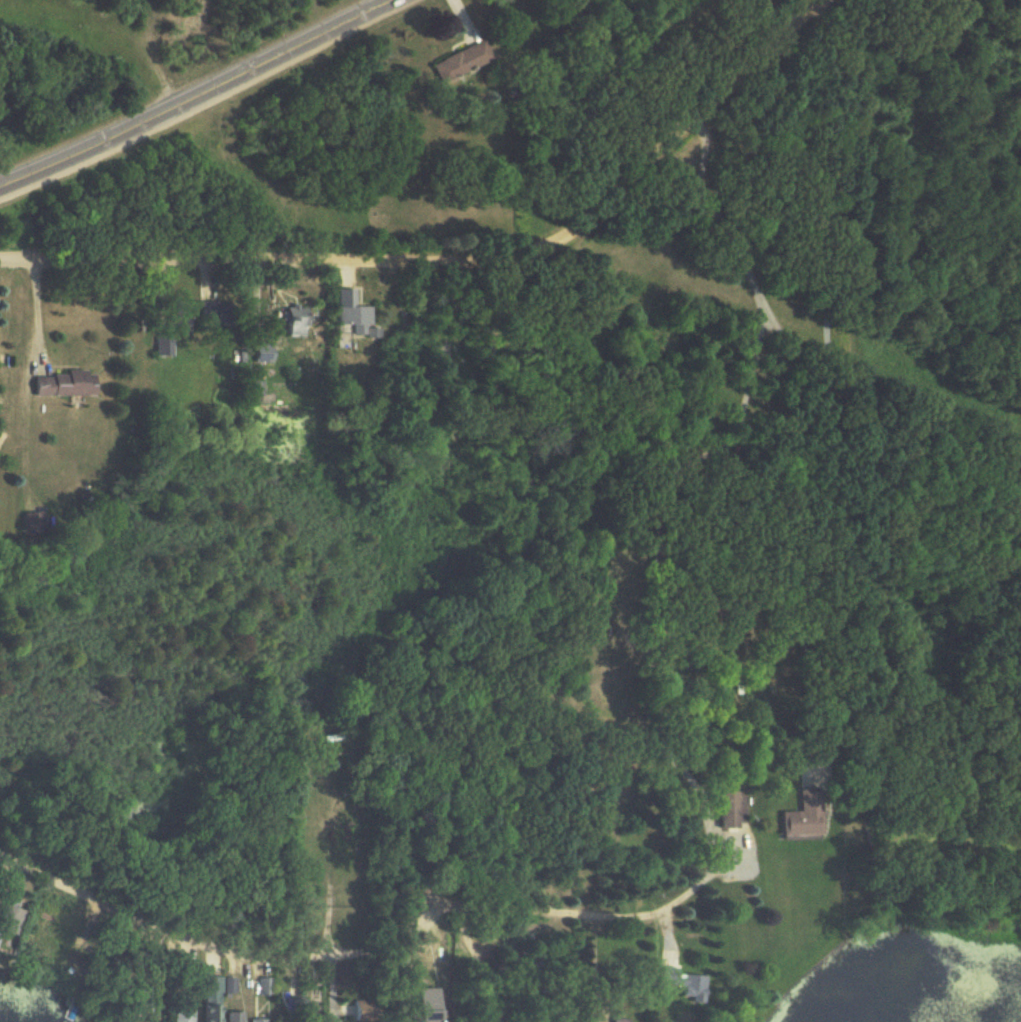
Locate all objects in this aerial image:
building: (459, 61)
road: (194, 94)
road: (460, 263)
building: (219, 311)
building: (347, 313)
building: (294, 315)
building: (171, 326)
building: (261, 352)
building: (59, 384)
road: (657, 514)
road: (784, 522)
building: (732, 803)
building: (802, 816)
road: (321, 958)
building: (681, 983)
building: (261, 987)
building: (142, 996)
building: (209, 999)
building: (177, 1008)
building: (232, 1017)
building: (617, 1020)
building: (257, 1021)

